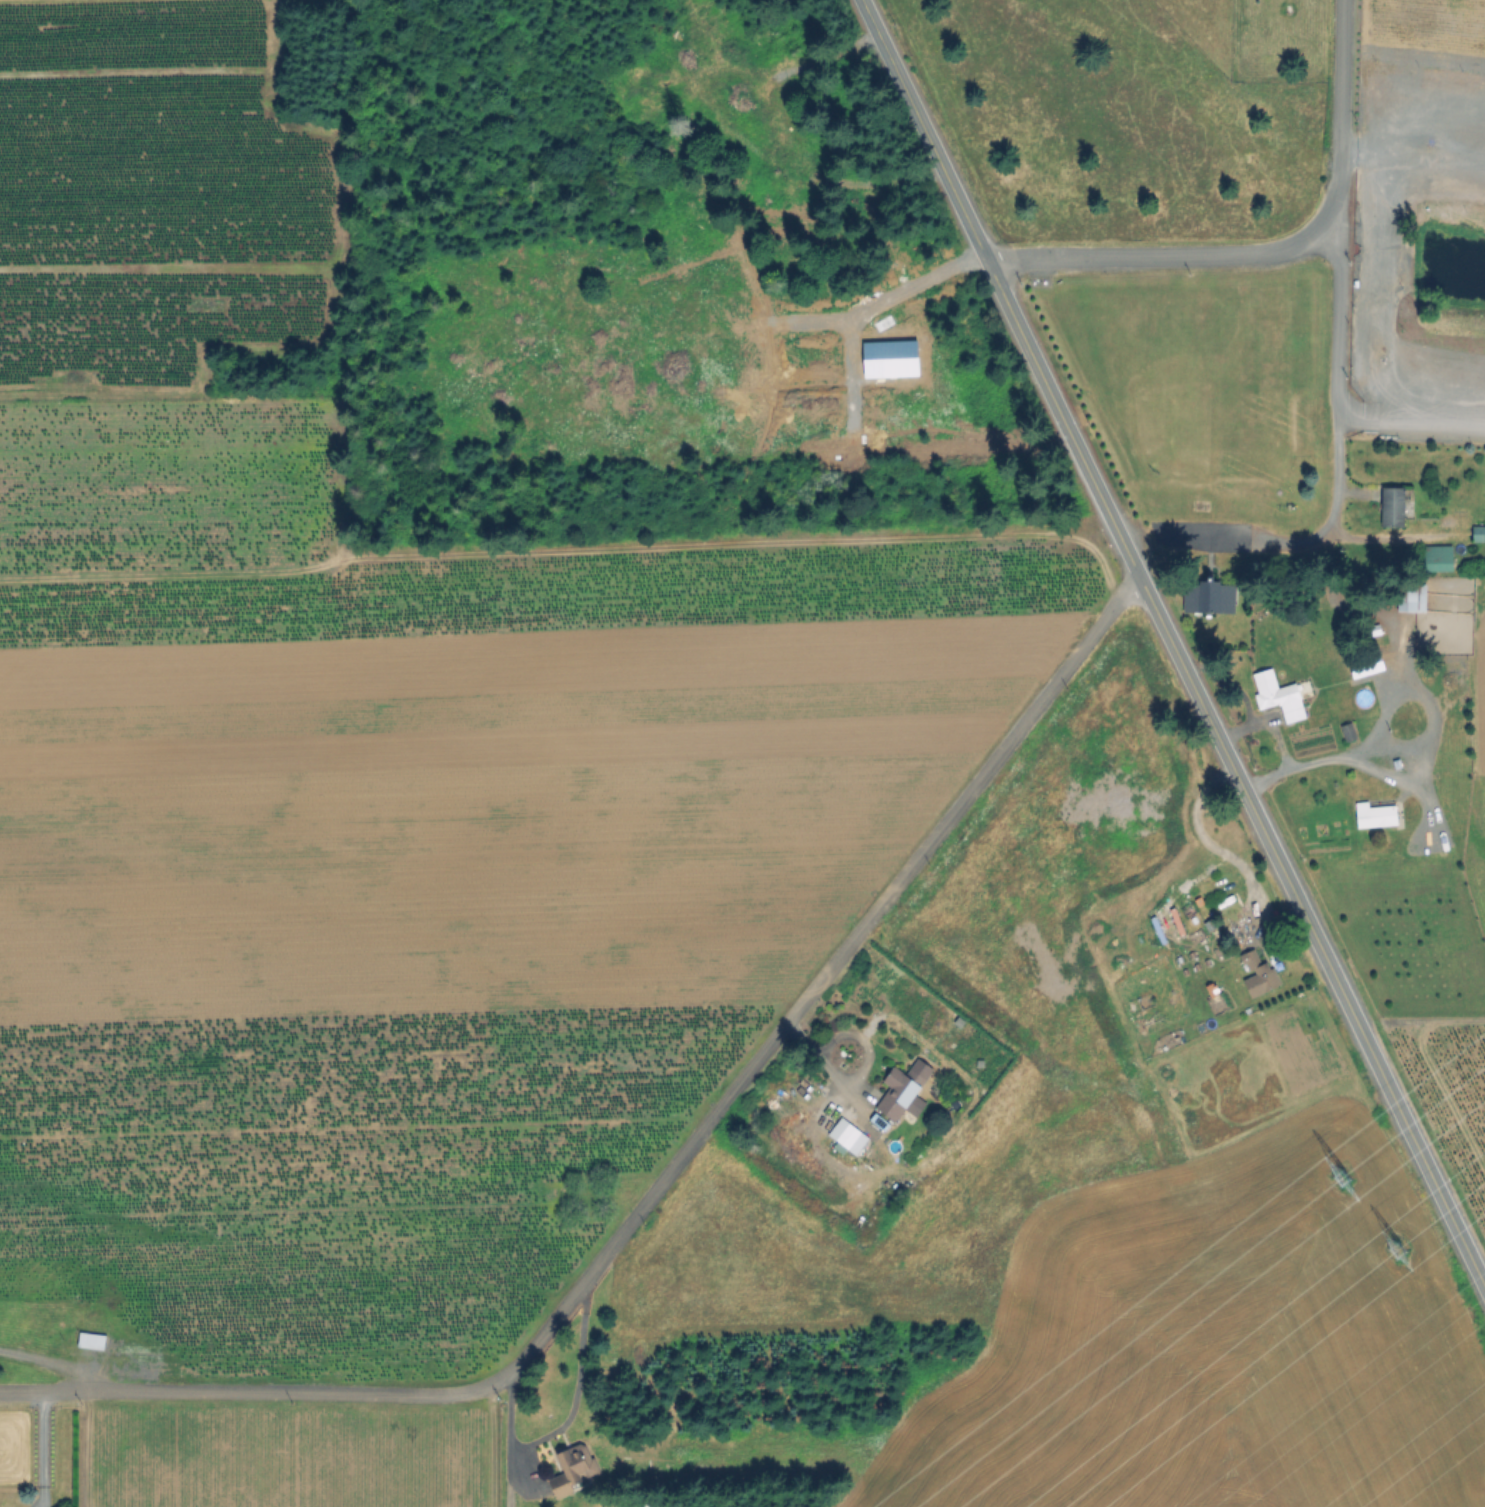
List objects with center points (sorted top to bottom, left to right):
road: (1413, 151)
road: (1275, 252)
road: (1341, 416)
road: (1413, 418)
building: (1392, 506)
building: (1479, 533)
road: (1206, 539)
building: (1440, 558)
building: (1210, 597)
building: (1412, 597)
road: (1173, 644)
building: (1367, 665)
road: (1229, 684)
building: (1280, 696)
building: (1400, 718)
road: (1268, 724)
building: (1349, 731)
road: (1318, 762)
building: (1376, 815)
road: (1210, 850)
building: (1257, 975)
building: (904, 1084)
building: (882, 1116)
building: (847, 1127)
power tower: (1333, 1173)
road: (664, 1176)
power tower: (1390, 1245)
building: (93, 1341)
road: (48, 1366)
road: (506, 1441)
road: (40, 1449)
building: (577, 1464)
building: (636, 1506)

